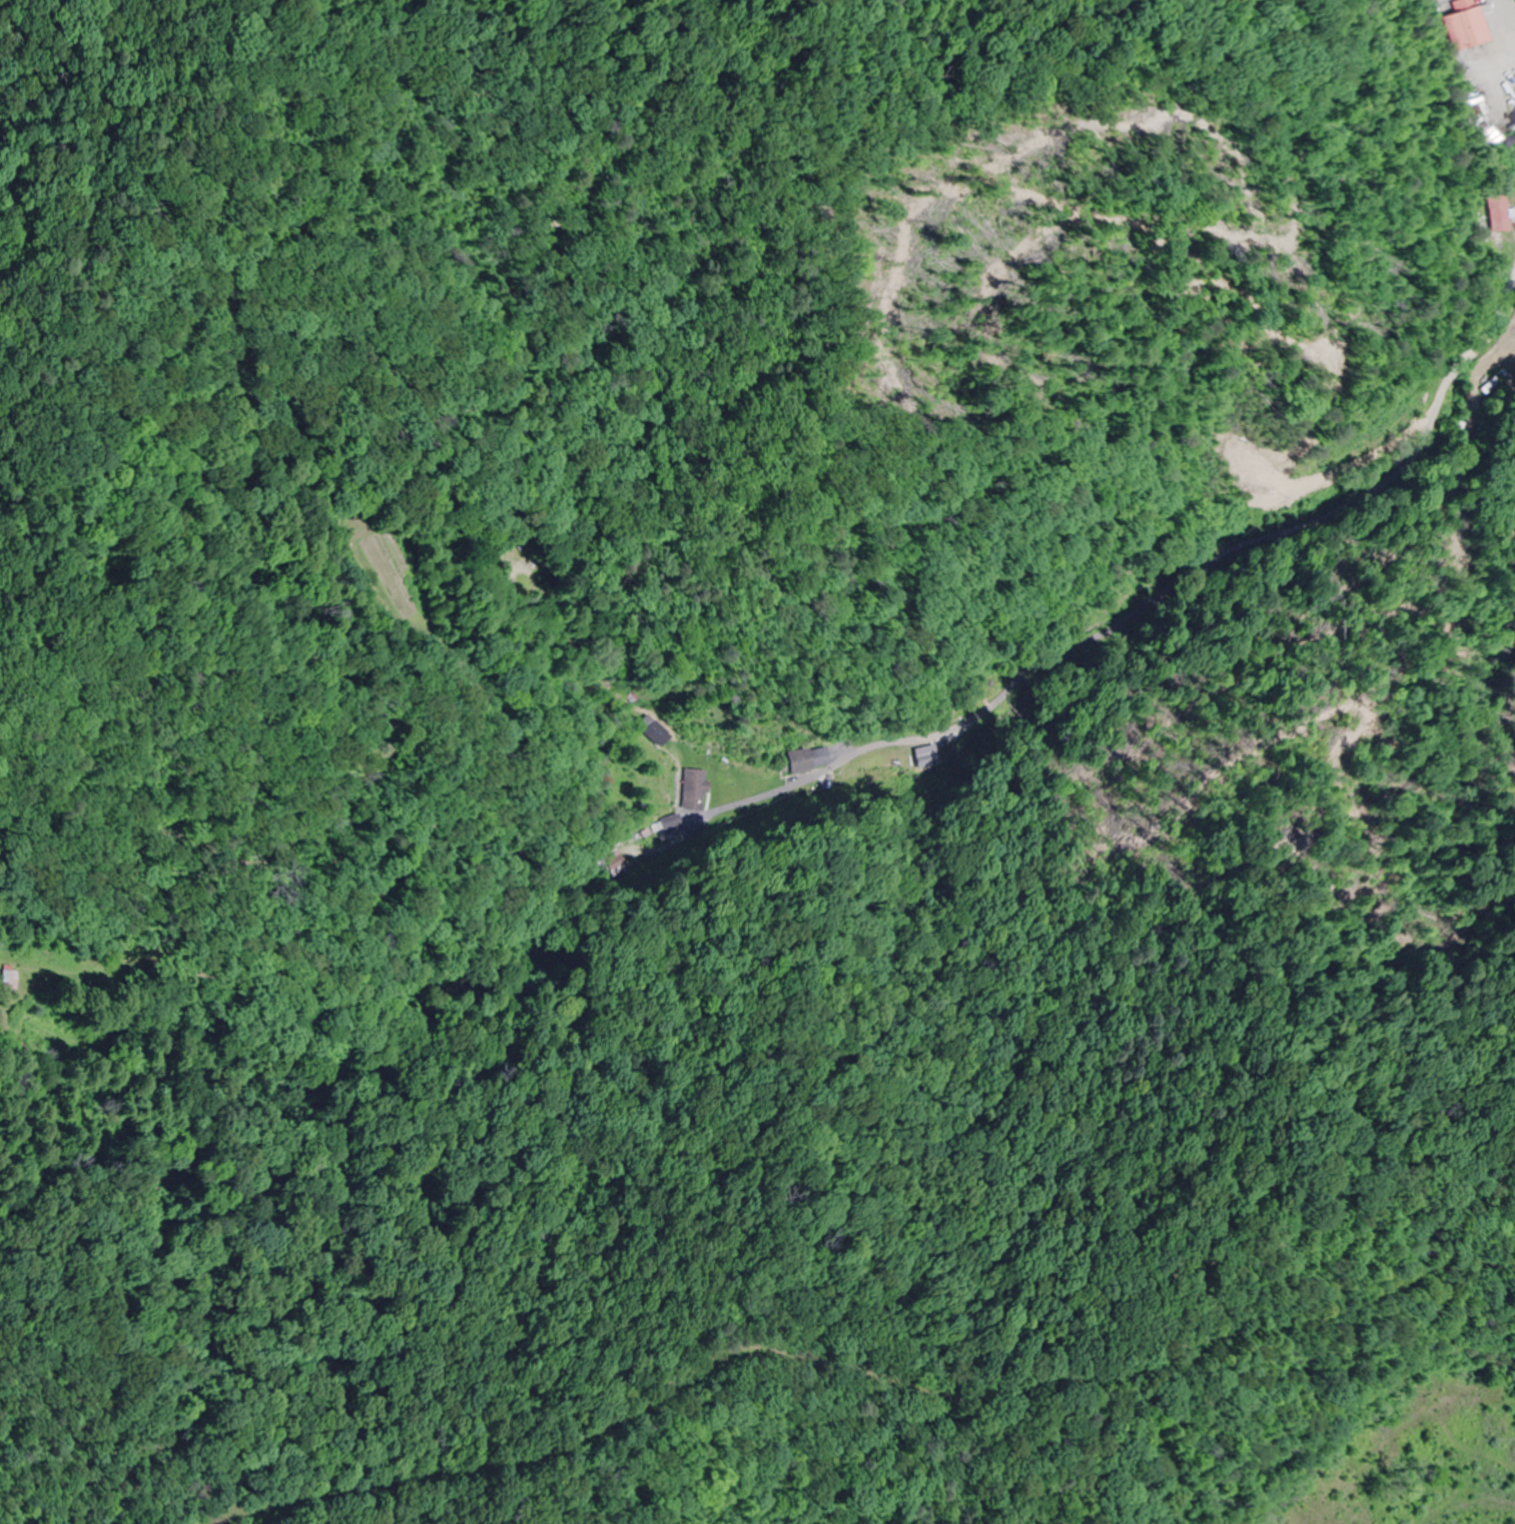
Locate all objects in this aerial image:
building: (1466, 25)
building: (1501, 216)
road: (1138, 622)
road: (129, 677)
building: (656, 731)
building: (805, 760)
building: (693, 790)
building: (7, 981)

